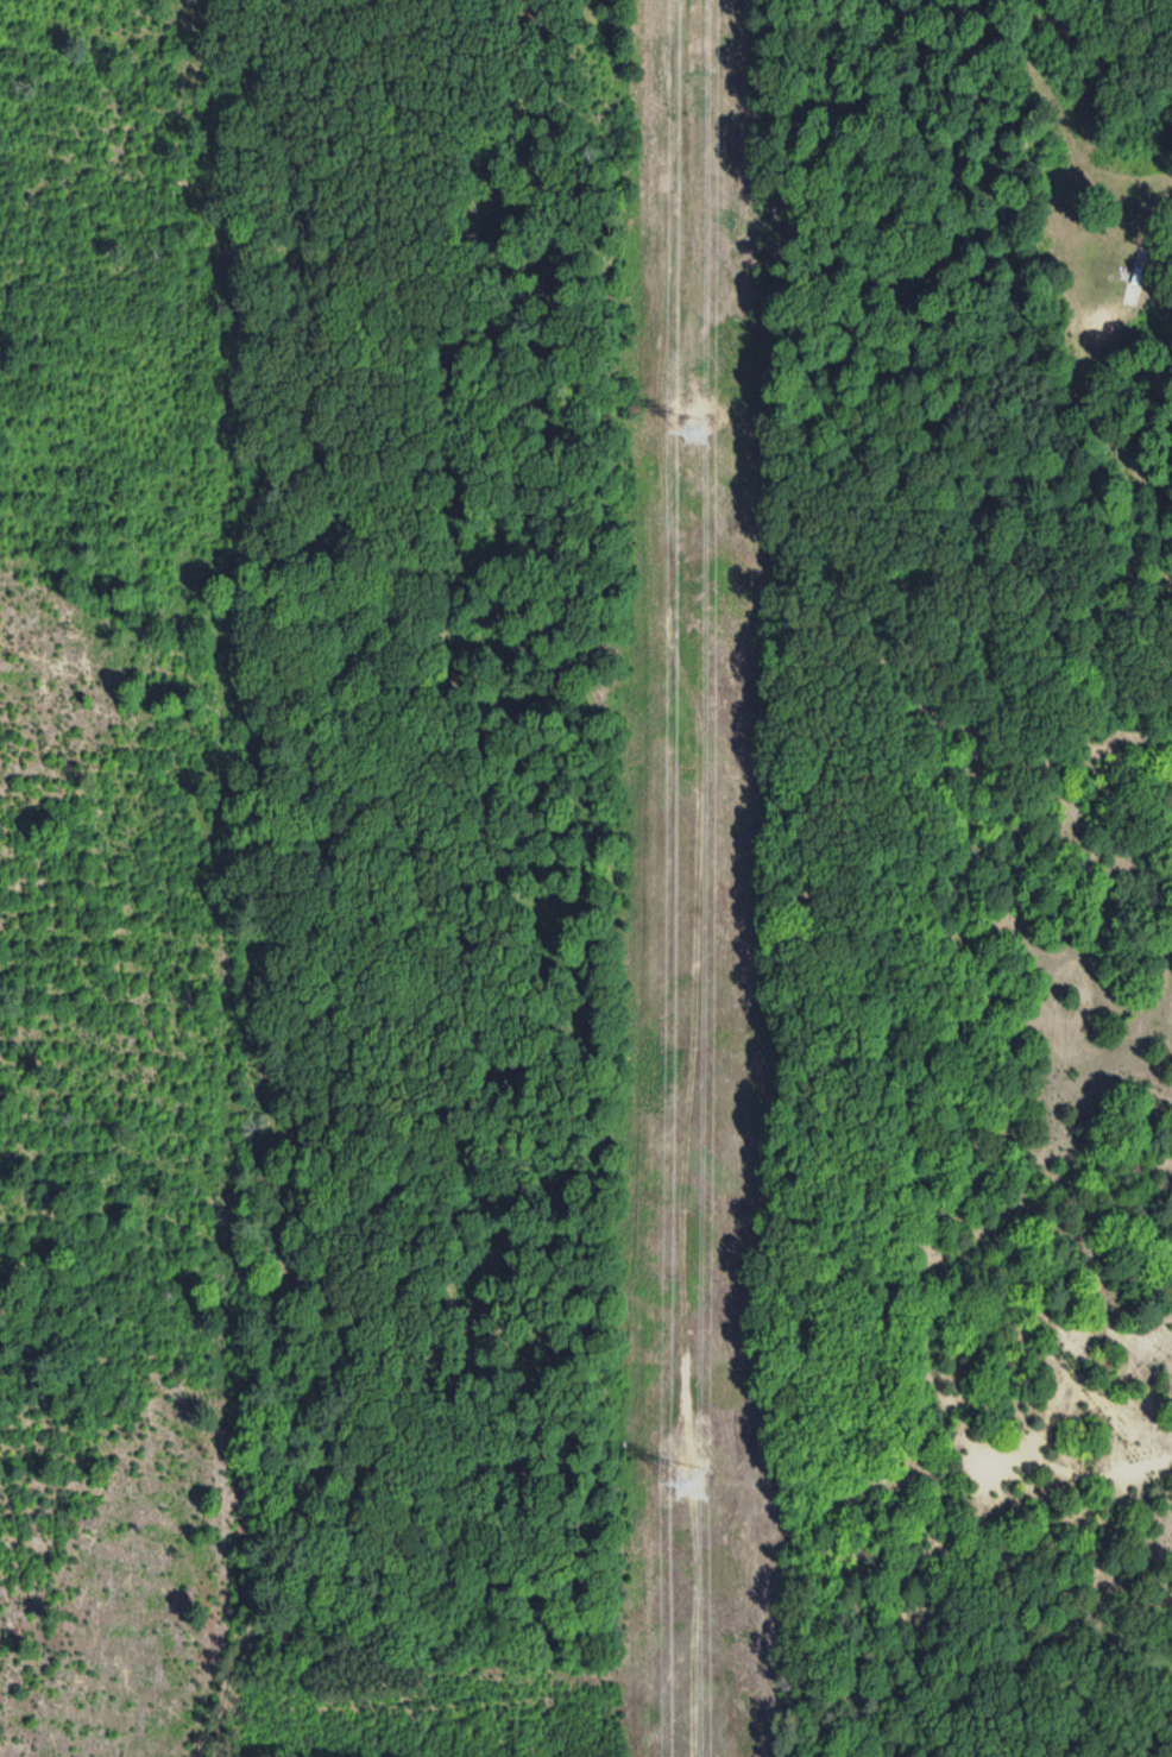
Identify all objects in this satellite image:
building: (1136, 278)
power tower: (700, 424)
power tower: (692, 1467)
road: (1171, 1755)

